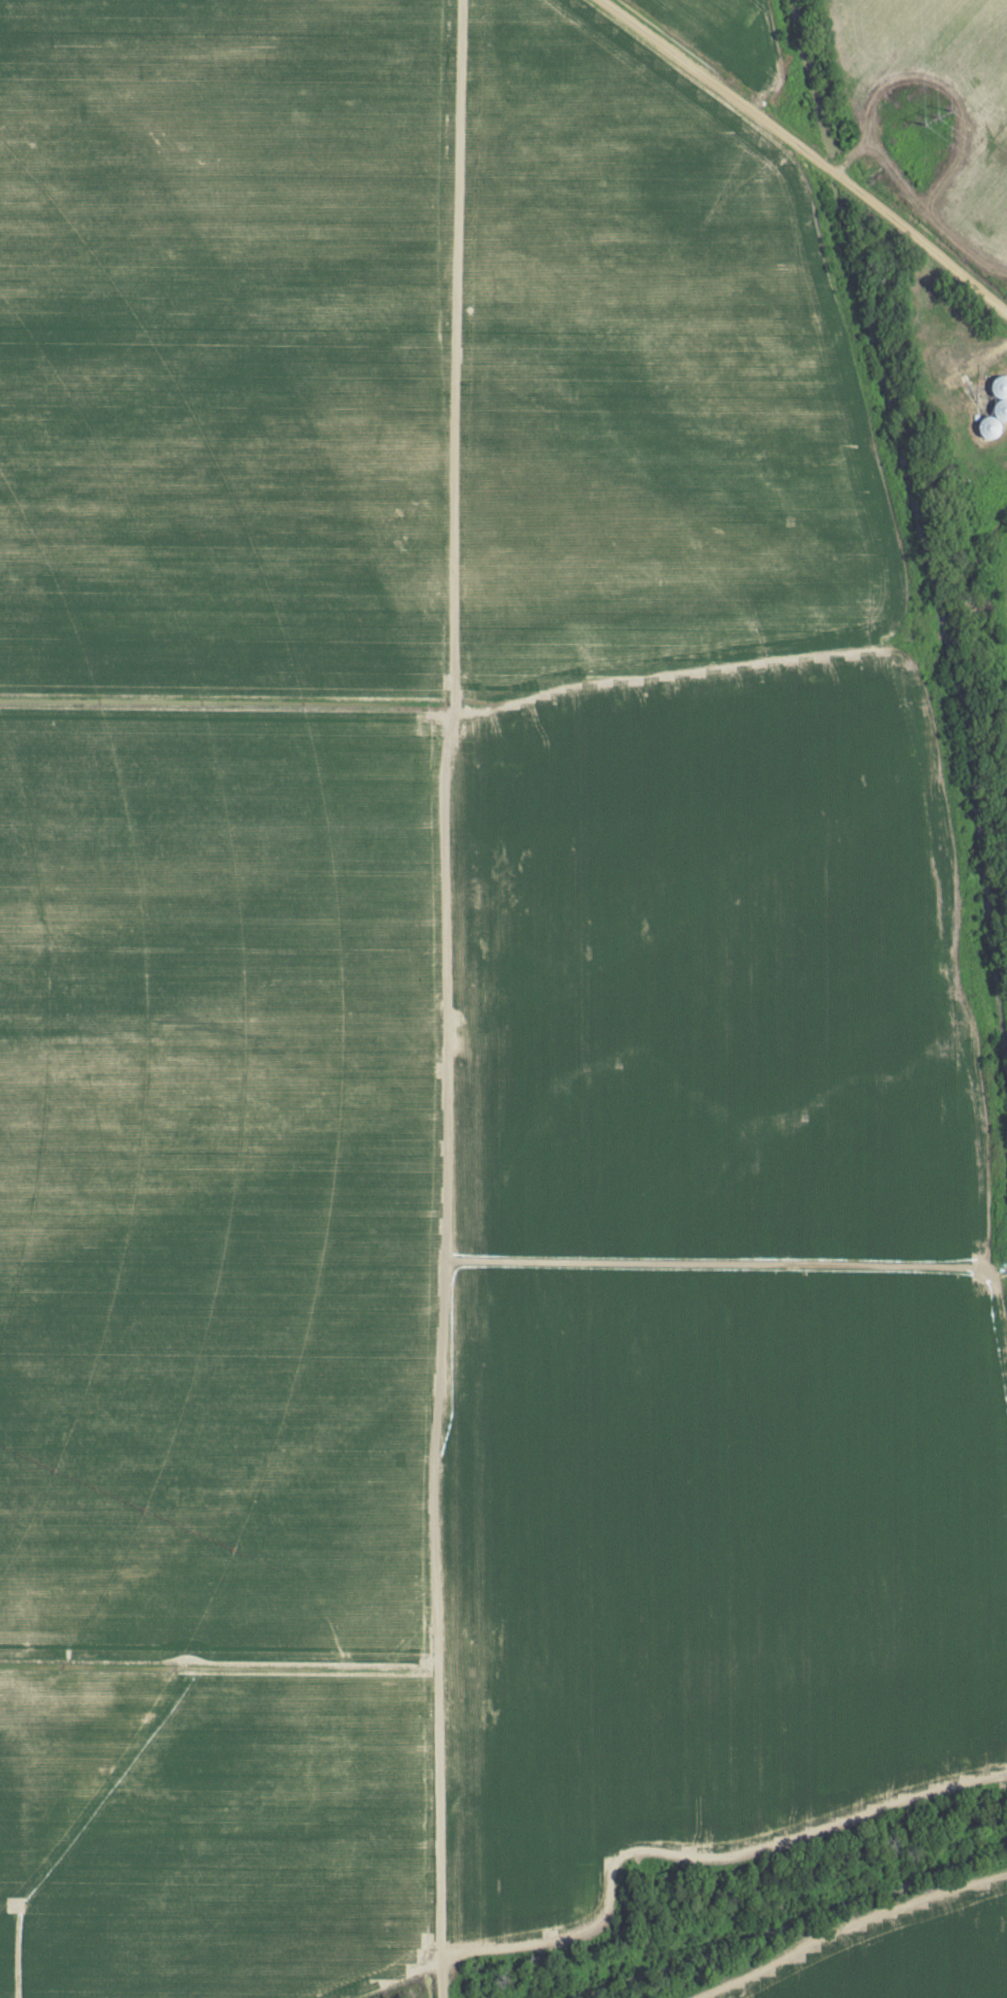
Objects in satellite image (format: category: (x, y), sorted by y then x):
power tower: (937, 115)
road: (808, 152)
building: (996, 411)

